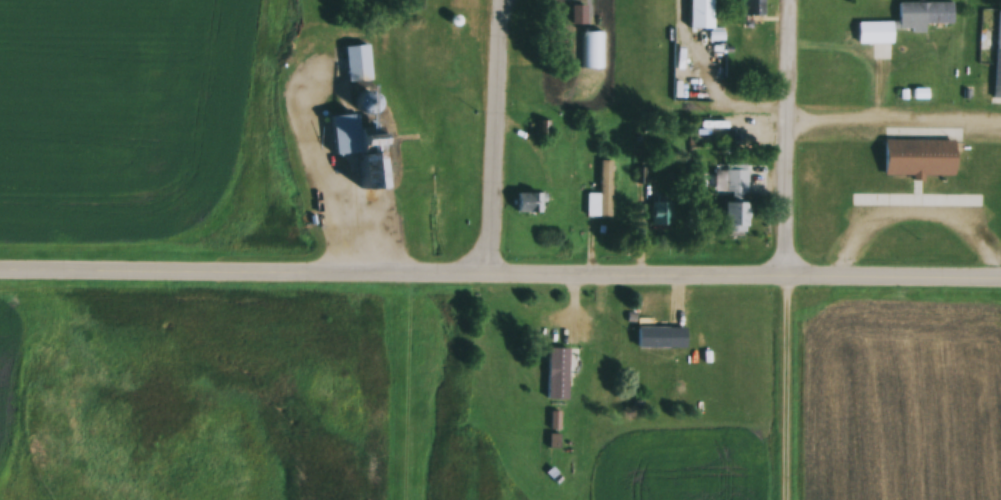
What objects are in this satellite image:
building: (573, 6)
building: (660, 10)
building: (742, 10)
building: (700, 13)
building: (914, 18)
building: (874, 33)
building: (573, 47)
building: (997, 57)
building: (357, 63)
building: (541, 129)
building: (344, 134)
road: (490, 140)
building: (907, 161)
building: (368, 171)
building: (600, 194)
building: (735, 200)
building: (530, 202)
building: (660, 214)
building: (724, 227)
road: (778, 250)
road: (500, 280)
building: (651, 339)
building: (549, 381)
building: (552, 441)

